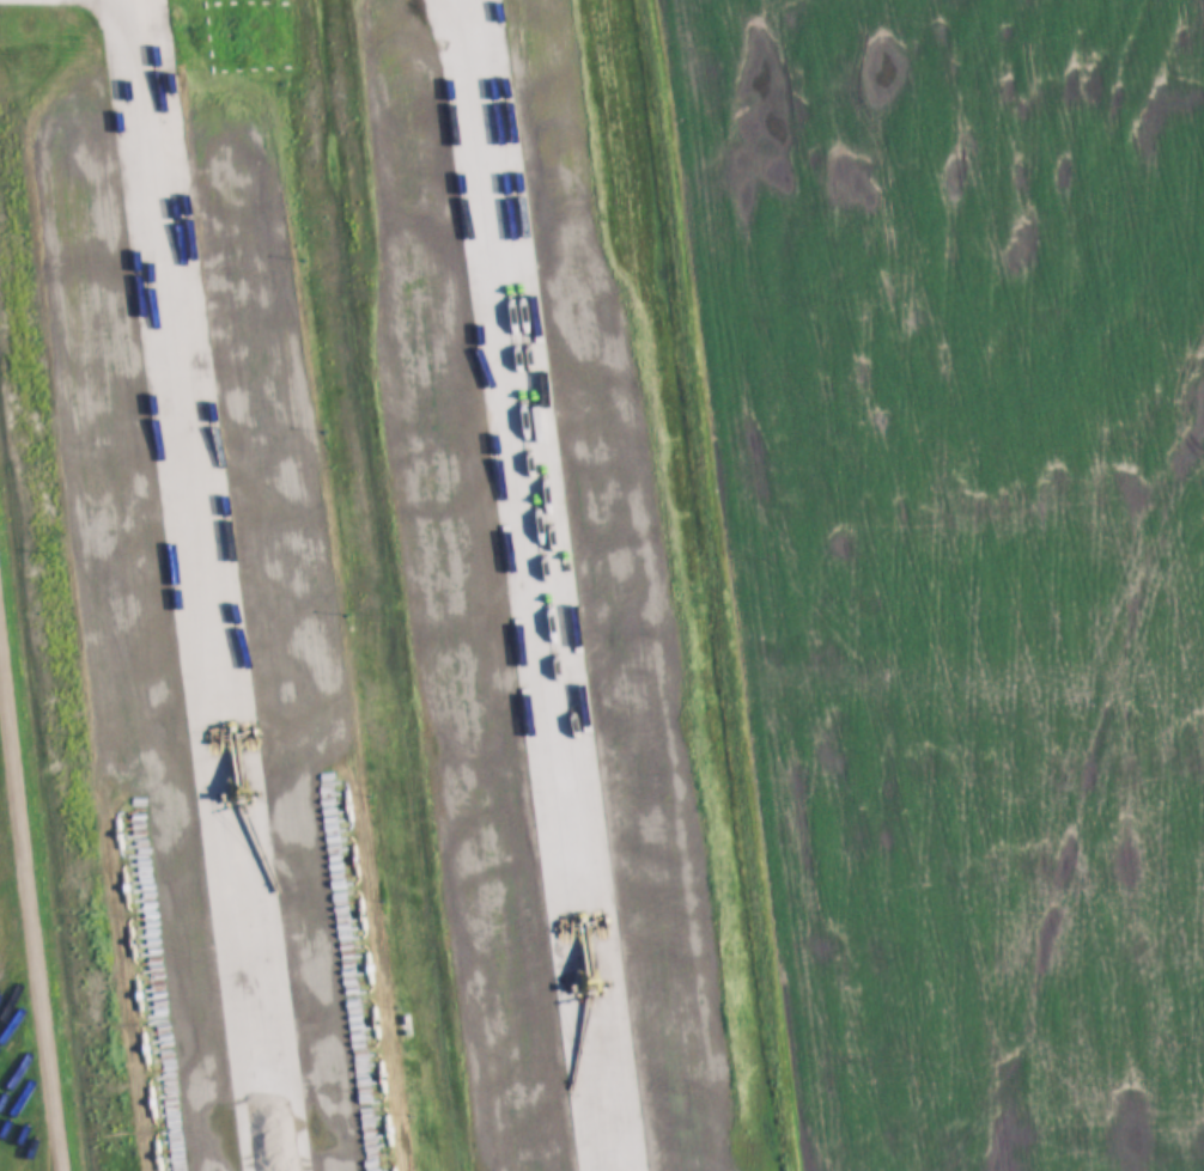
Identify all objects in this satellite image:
crop: (1029, 577)
road: (205, 578)
road: (31, 905)

